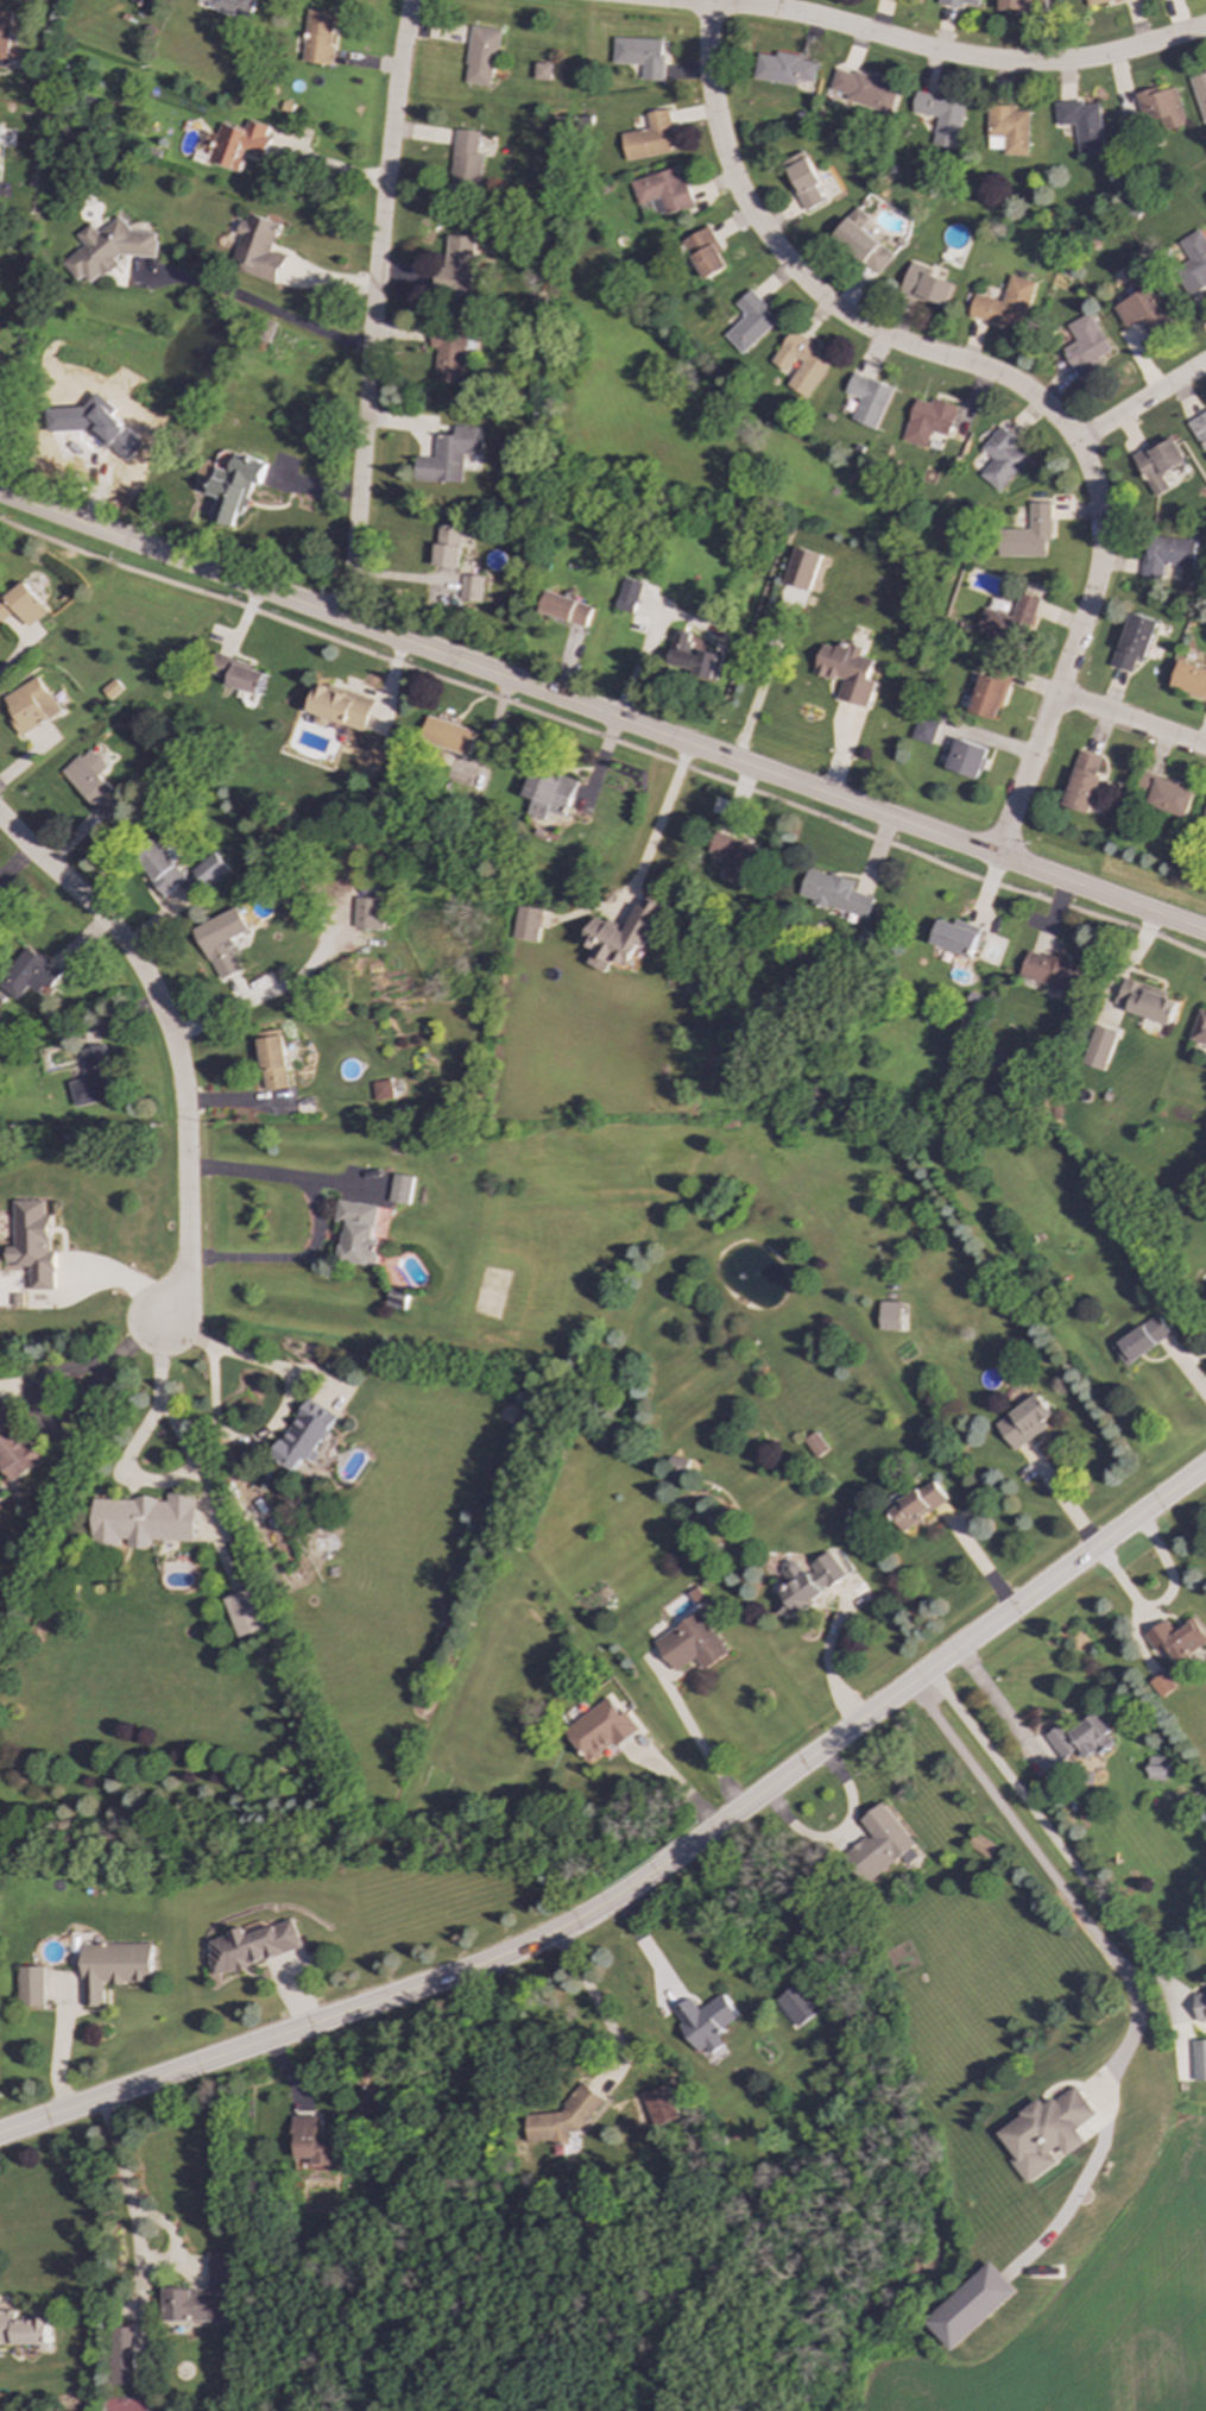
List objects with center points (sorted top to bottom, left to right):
building: (1095, 1)
building: (143, 2)
building: (959, 2)
building: (1022, 5)
building: (229, 7)
building: (5, 33)
building: (316, 37)
road: (935, 51)
building: (640, 55)
building: (481, 56)
building: (783, 68)
building: (542, 71)
building: (865, 90)
building: (1200, 92)
building: (1160, 109)
building: (941, 117)
building: (1081, 124)
building: (1006, 130)
building: (649, 138)
building: (238, 144)
building: (465, 159)
building: (803, 181)
building: (663, 191)
building: (861, 243)
building: (108, 248)
building: (257, 248)
building: (705, 252)
building: (1193, 263)
building: (456, 265)
building: (926, 285)
road: (258, 303)
building: (1005, 303)
road: (372, 309)
building: (1142, 311)
building: (750, 322)
building: (1085, 344)
building: (450, 353)
building: (802, 363)
road: (1003, 379)
building: (867, 399)
road: (1139, 403)
building: (928, 421)
building: (1199, 429)
road: (0, 448)
building: (449, 455)
building: (1002, 459)
building: (1157, 464)
building: (235, 487)
building: (1027, 534)
building: (448, 547)
building: (1164, 554)
building: (801, 568)
building: (472, 588)
building: (629, 596)
building: (21, 605)
building: (566, 609)
building: (1009, 621)
building: (1134, 641)
road: (14, 654)
building: (693, 656)
building: (847, 672)
building: (238, 674)
building: (1189, 680)
building: (109, 688)
building: (989, 694)
building: (29, 705)
building: (340, 707)
road: (602, 713)
road: (1130, 722)
building: (923, 731)
building: (448, 736)
road: (604, 737)
building: (966, 757)
building: (1081, 782)
building: (91, 783)
building: (548, 794)
building: (1163, 794)
road: (661, 819)
building: (1204, 820)
building: (737, 855)
building: (210, 870)
building: (834, 893)
building: (367, 913)
building: (526, 924)
building: (621, 936)
building: (955, 937)
building: (221, 942)
building: (1053, 971)
building: (27, 974)
building: (1144, 1001)
building: (1199, 1028)
road: (173, 1041)
building: (1099, 1047)
building: (273, 1059)
building: (95, 1077)
building: (383, 1090)
building: (402, 1189)
road: (321, 1217)
building: (358, 1232)
building: (33, 1244)
building: (889, 1316)
building: (1141, 1340)
building: (1023, 1422)
road: (64, 1423)
building: (305, 1434)
road: (251, 1440)
building: (814, 1444)
building: (14, 1447)
building: (676, 1468)
road: (198, 1471)
building: (916, 1505)
building: (144, 1519)
building: (807, 1581)
building: (244, 1612)
building: (1175, 1639)
building: (690, 1644)
road: (828, 1662)
building: (1161, 1685)
road: (998, 1705)
building: (599, 1729)
building: (1079, 1738)
road: (700, 1744)
building: (1155, 1768)
road: (1044, 1828)
building: (879, 1845)
building: (980, 1845)
road: (645, 1880)
road: (1100, 1944)
building: (252, 1946)
building: (114, 1968)
building: (31, 1987)
road: (594, 1998)
building: (797, 2004)
building: (1199, 2006)
building: (705, 2021)
building: (1199, 2060)
building: (658, 2105)
building: (562, 2117)
building: (1044, 2132)
building: (314, 2142)
road: (130, 2204)
building: (203, 2296)
building: (970, 2306)
crop: (1103, 2318)
building: (21, 2330)
building: (121, 2355)

